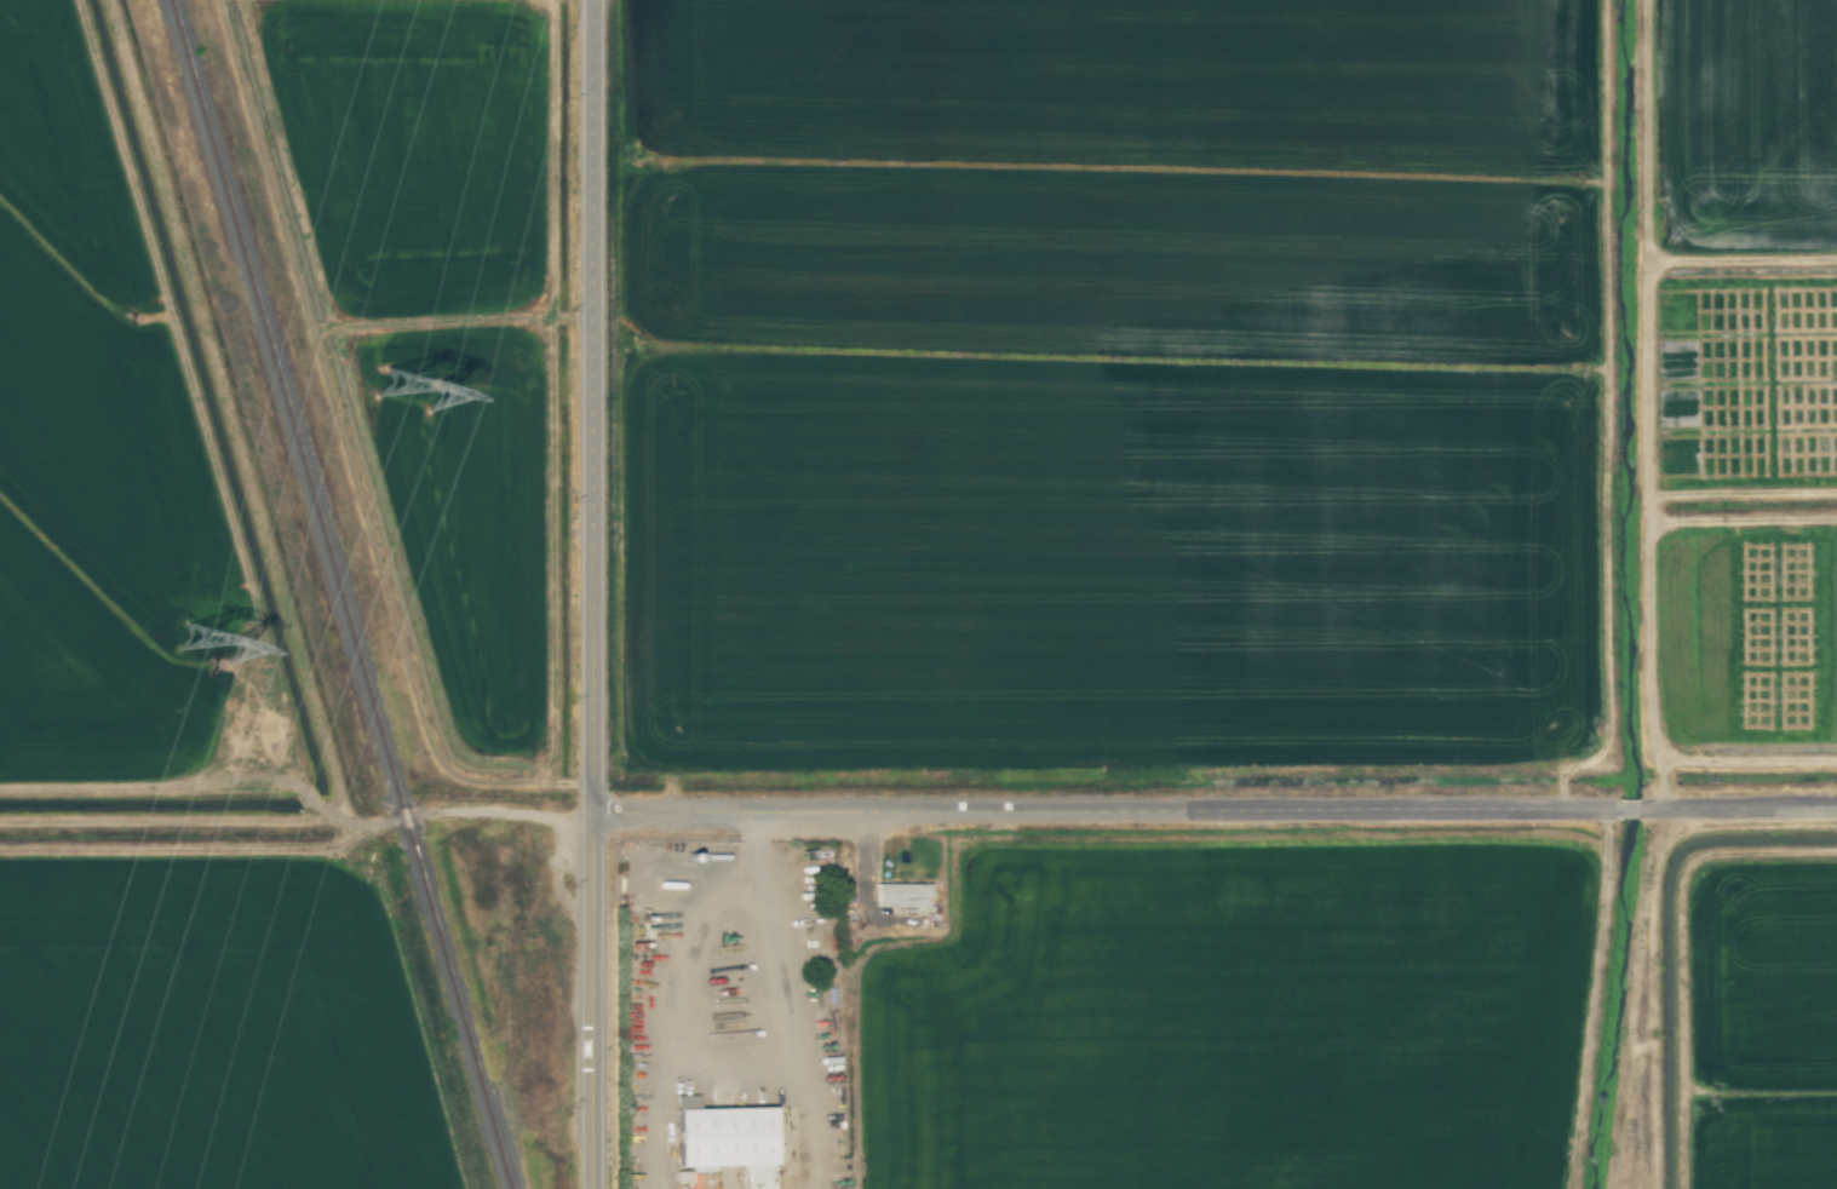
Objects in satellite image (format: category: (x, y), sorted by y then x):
power tower: (418, 421)
railway: (338, 593)
road: (601, 594)
power tower: (220, 642)
road: (1218, 817)
building: (900, 895)
building: (724, 1141)

